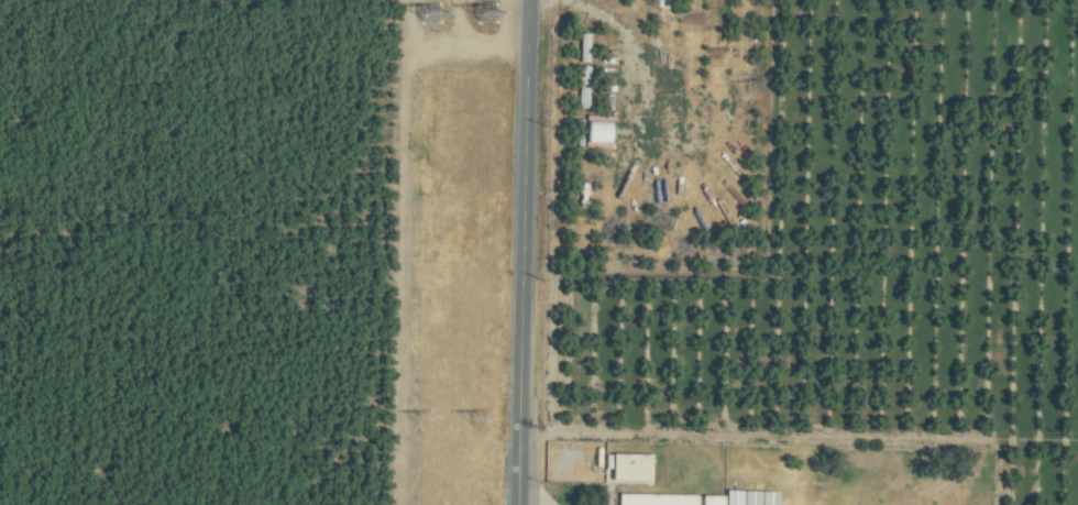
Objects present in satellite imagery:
power tower: (429, 13)
power tower: (485, 13)
road: (526, 39)
building: (591, 132)
crop: (539, 252)
road: (520, 290)
power tower: (420, 417)
power tower: (476, 418)
building: (625, 466)
building: (652, 499)
building: (707, 499)

